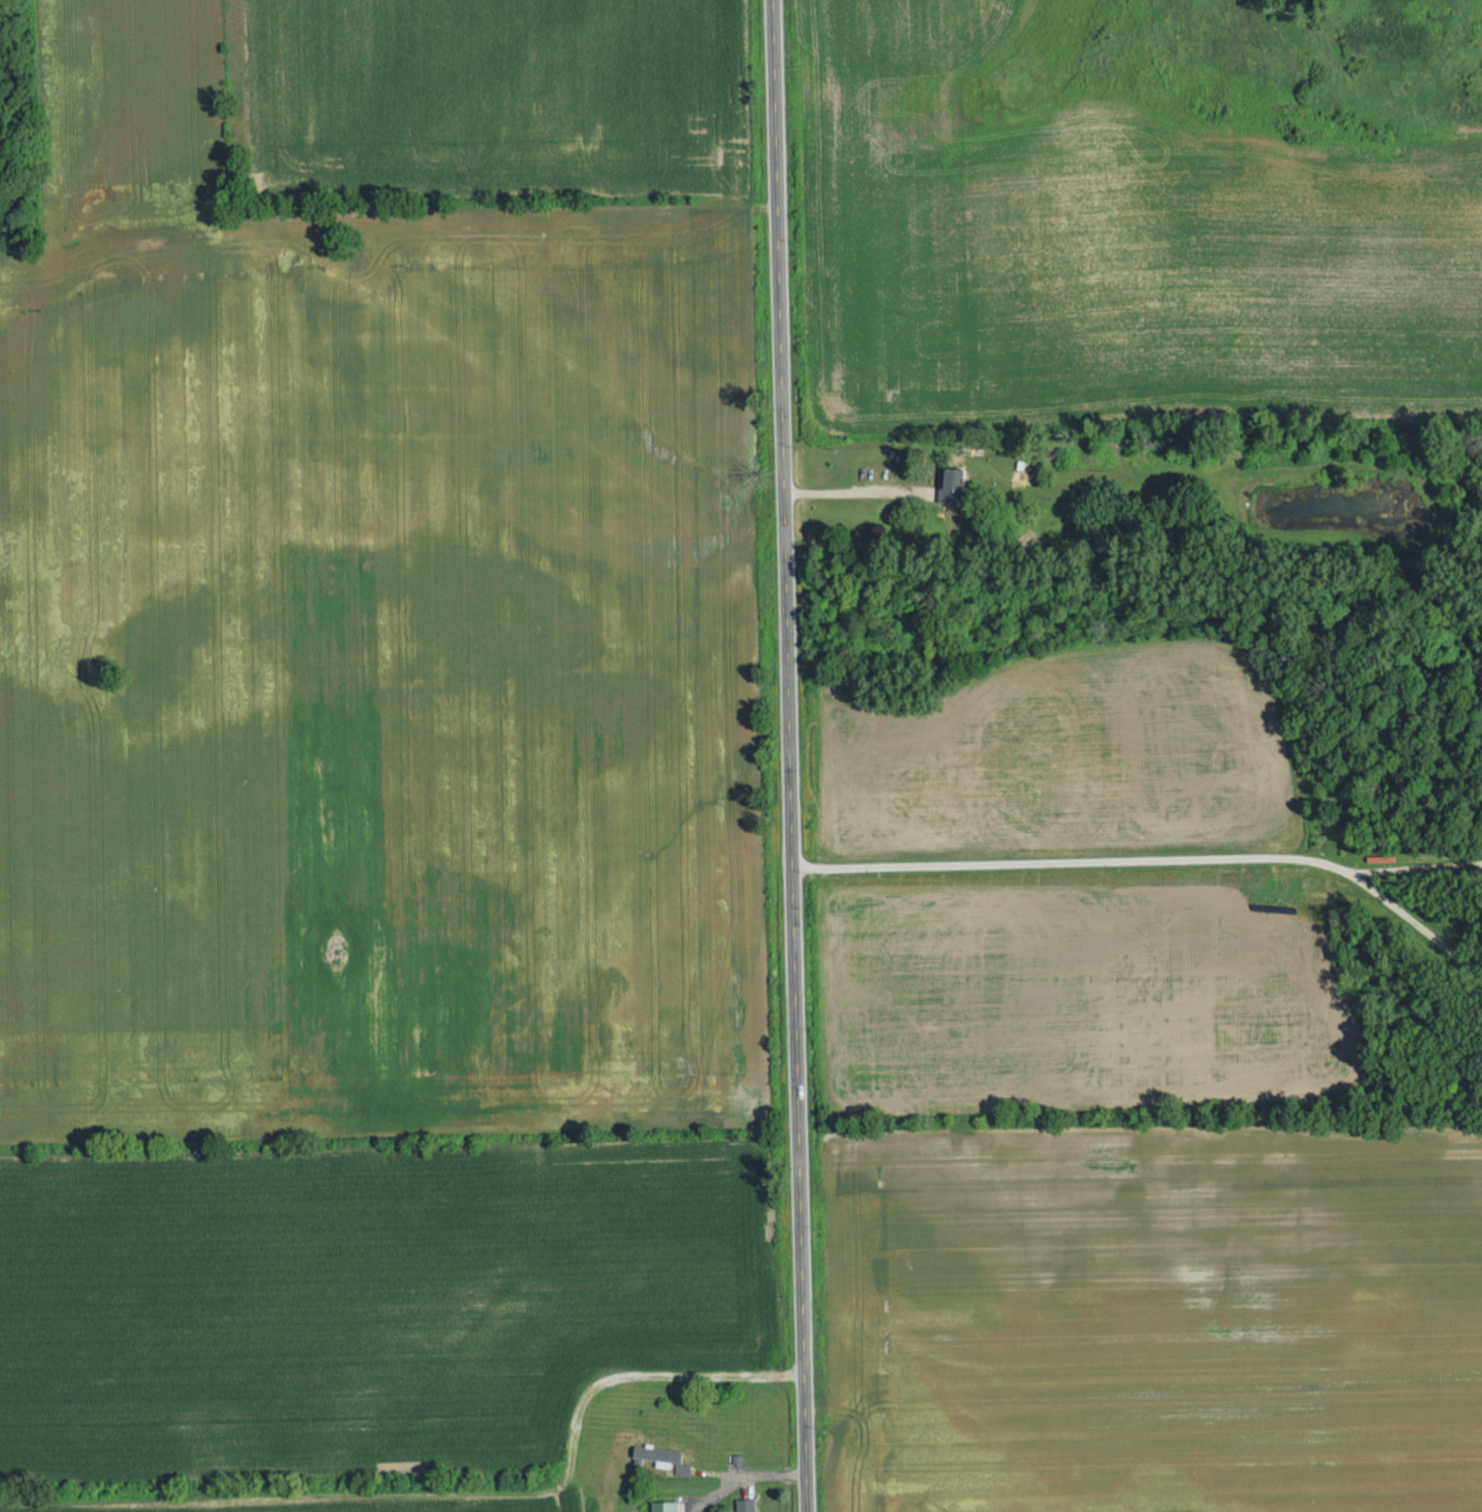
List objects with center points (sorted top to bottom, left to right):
building: (950, 485)
road: (856, 493)
road: (789, 755)
road: (1073, 863)
road: (1417, 868)
road: (1415, 924)
building: (653, 1458)
road: (750, 1477)
building: (744, 1505)
building: (663, 1506)

